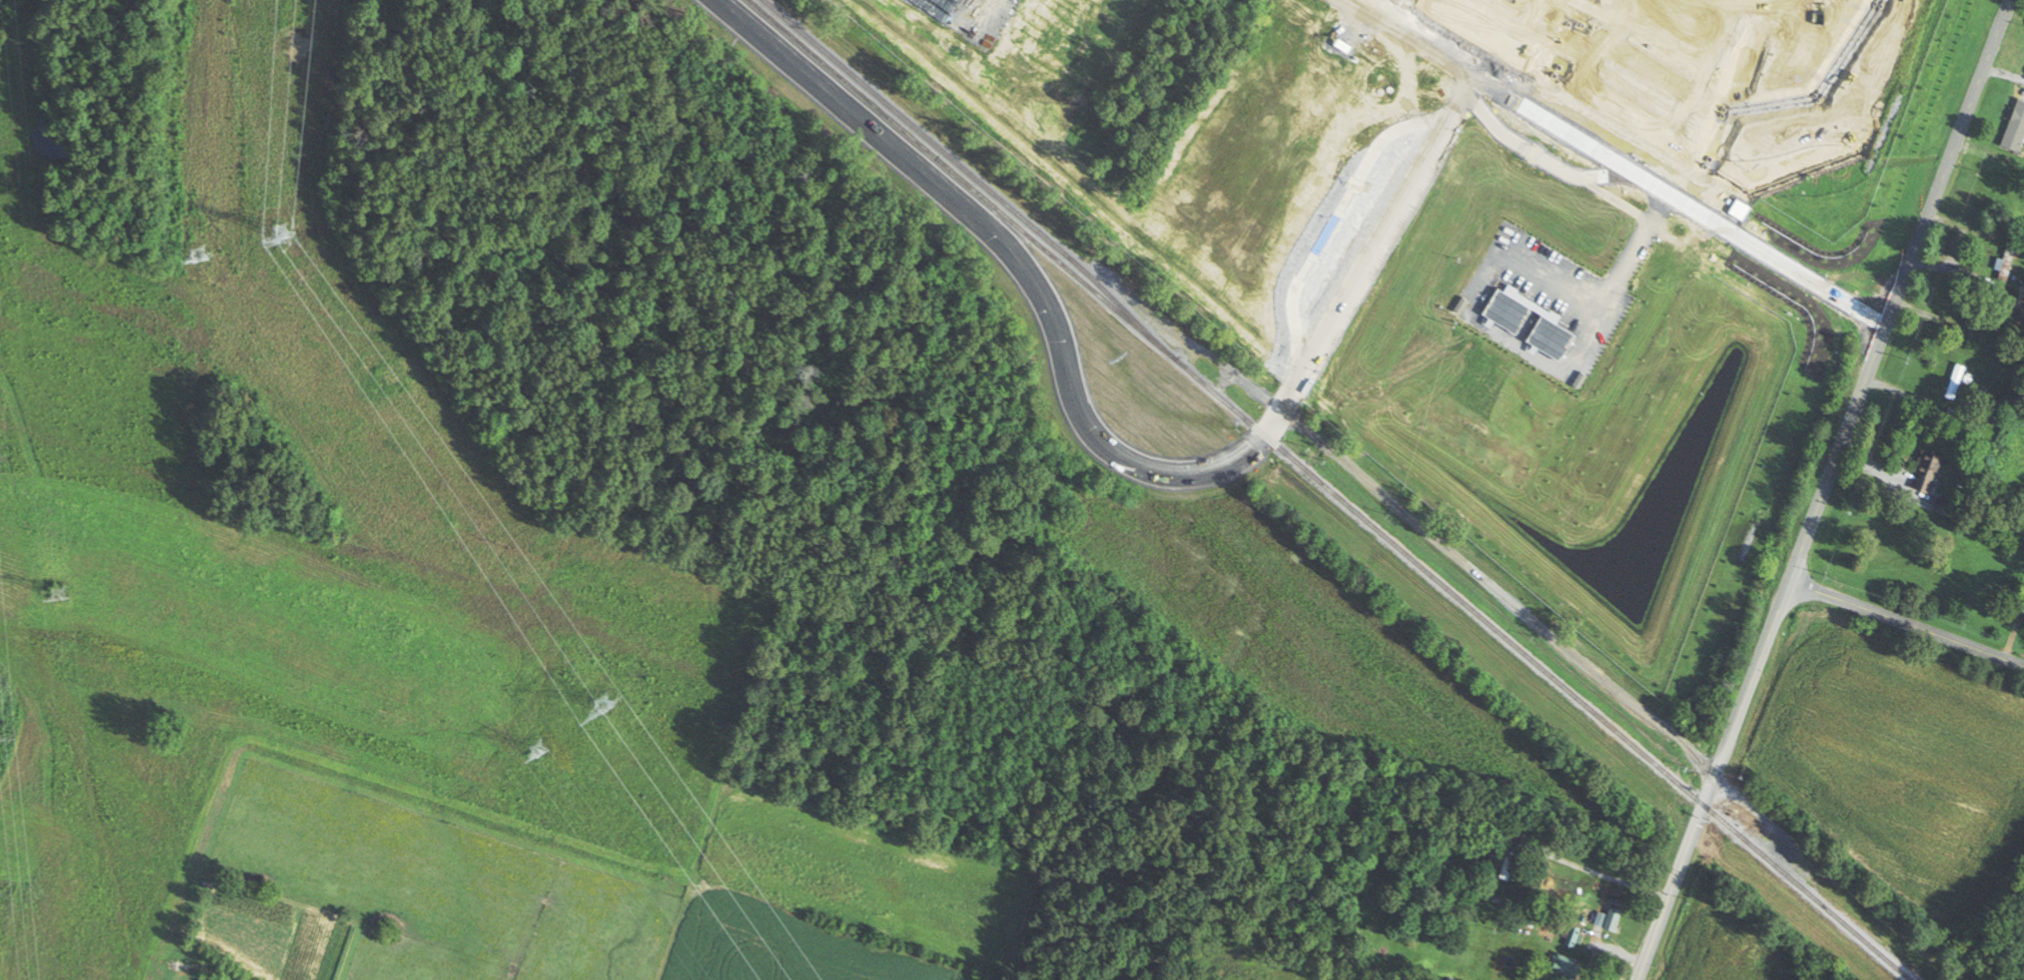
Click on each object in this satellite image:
building: (2016, 128)
road: (1610, 163)
building: (1457, 174)
railway: (989, 189)
railway: (978, 193)
power tower: (281, 232)
power tower: (198, 253)
building: (2009, 261)
road: (1898, 288)
building: (2022, 291)
building: (1974, 325)
building: (1955, 382)
building: (1925, 477)
building: (1947, 509)
road: (1906, 619)
railway: (1560, 682)
power tower: (602, 703)
power tower: (9, 734)
power tower: (539, 750)
road: (1712, 778)
building: (1508, 864)
building: (1612, 919)
building: (1564, 967)

